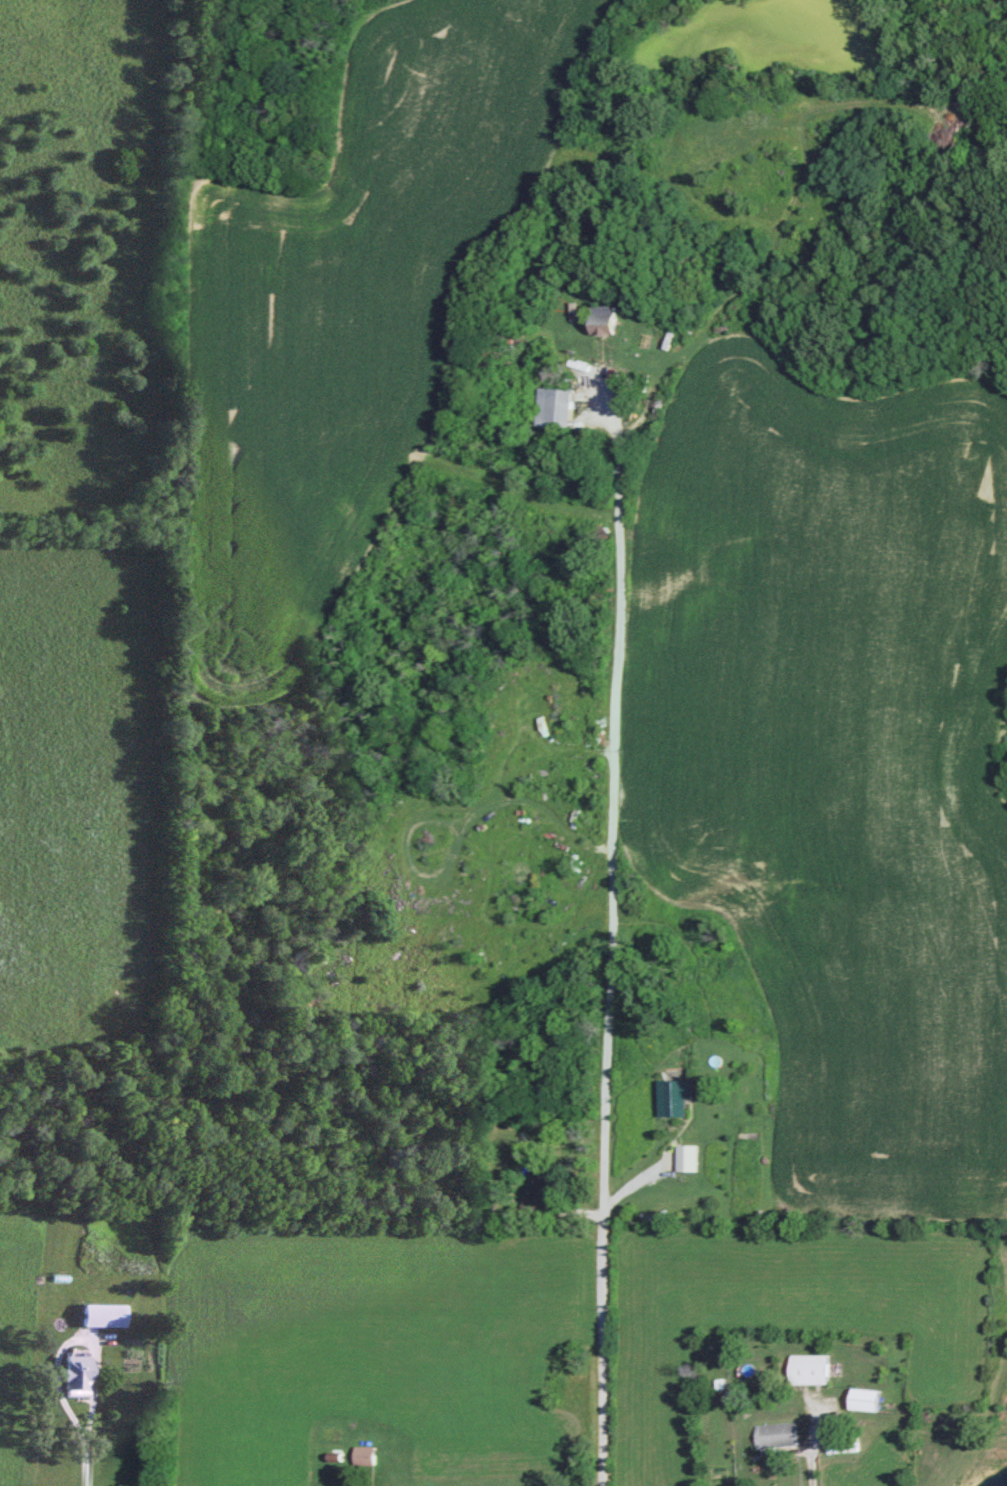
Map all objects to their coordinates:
building: (601, 319)
building: (553, 406)
road: (617, 772)
building: (670, 1096)
building: (684, 1157)
building: (540, 1190)
building: (107, 1314)
building: (807, 1368)
building: (82, 1374)
building: (861, 1399)
building: (775, 1434)
building: (362, 1455)

